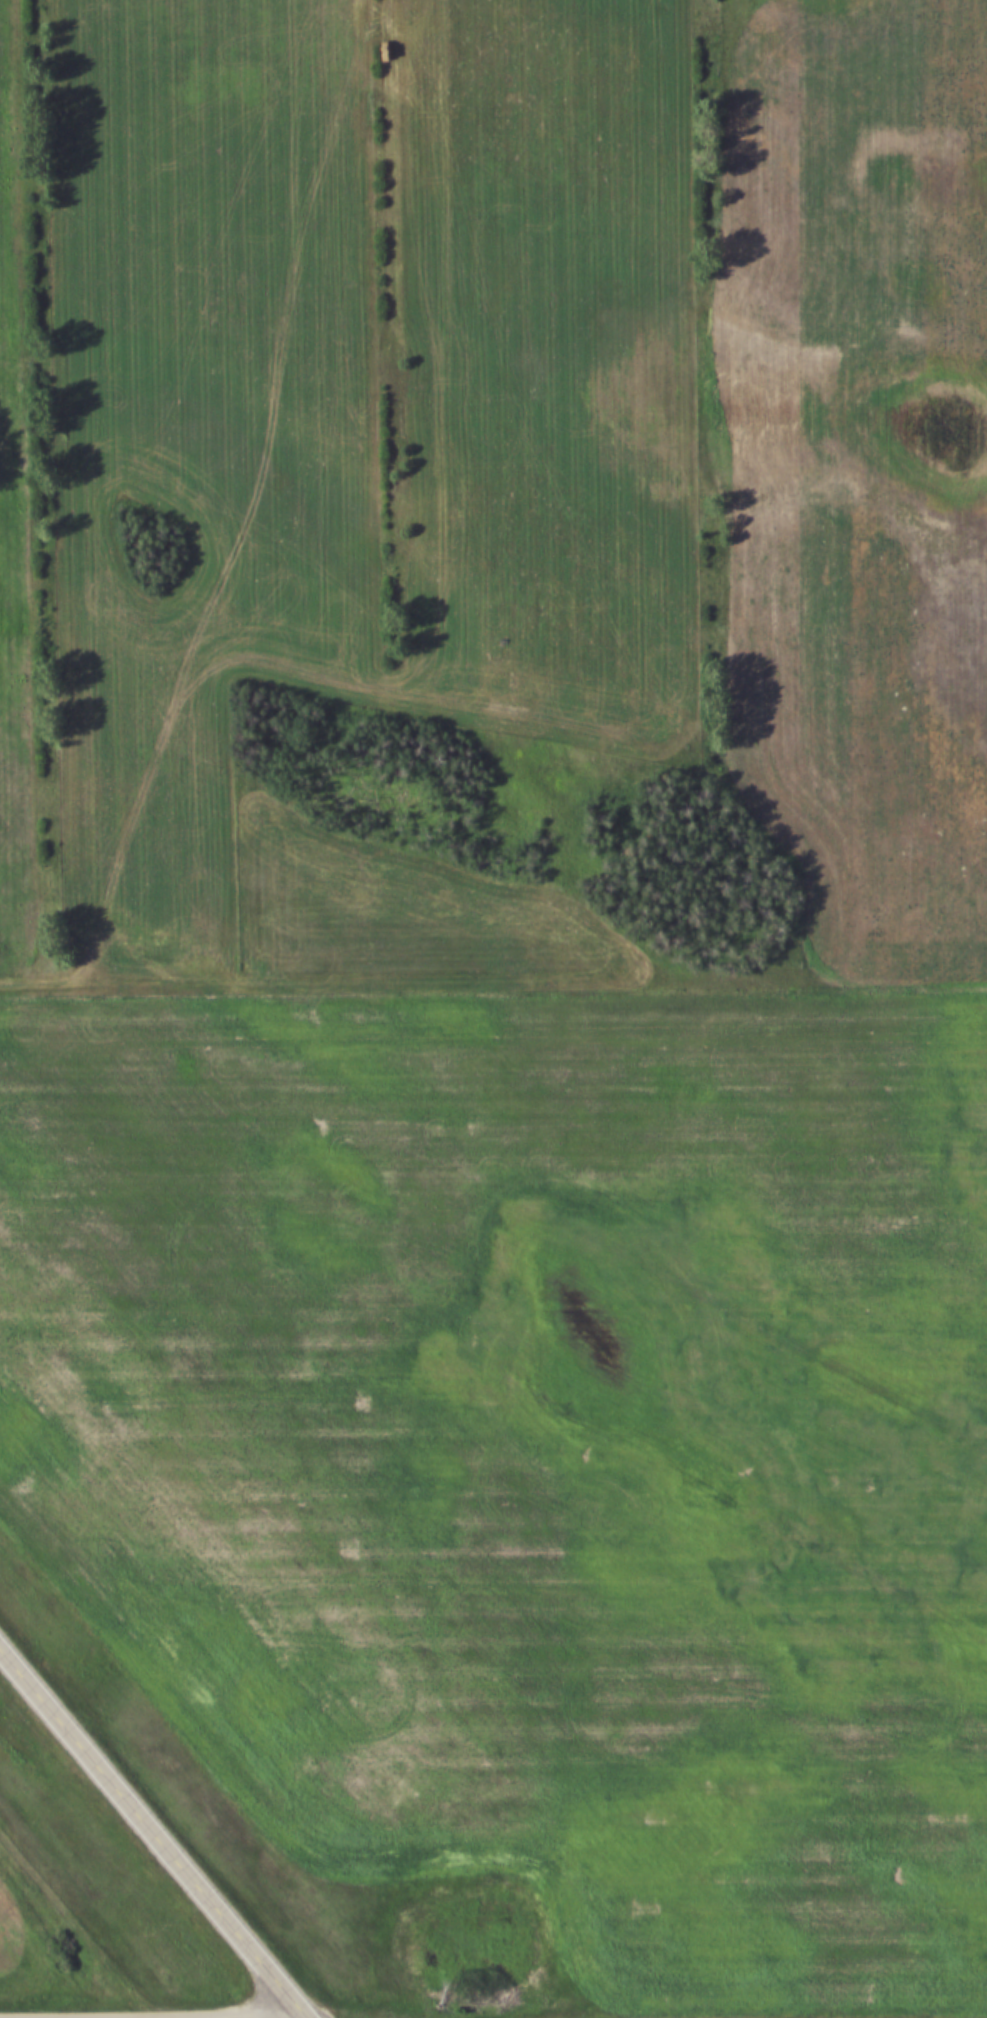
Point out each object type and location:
road: (157, 1831)
road: (647, 2010)
road: (154, 2017)

